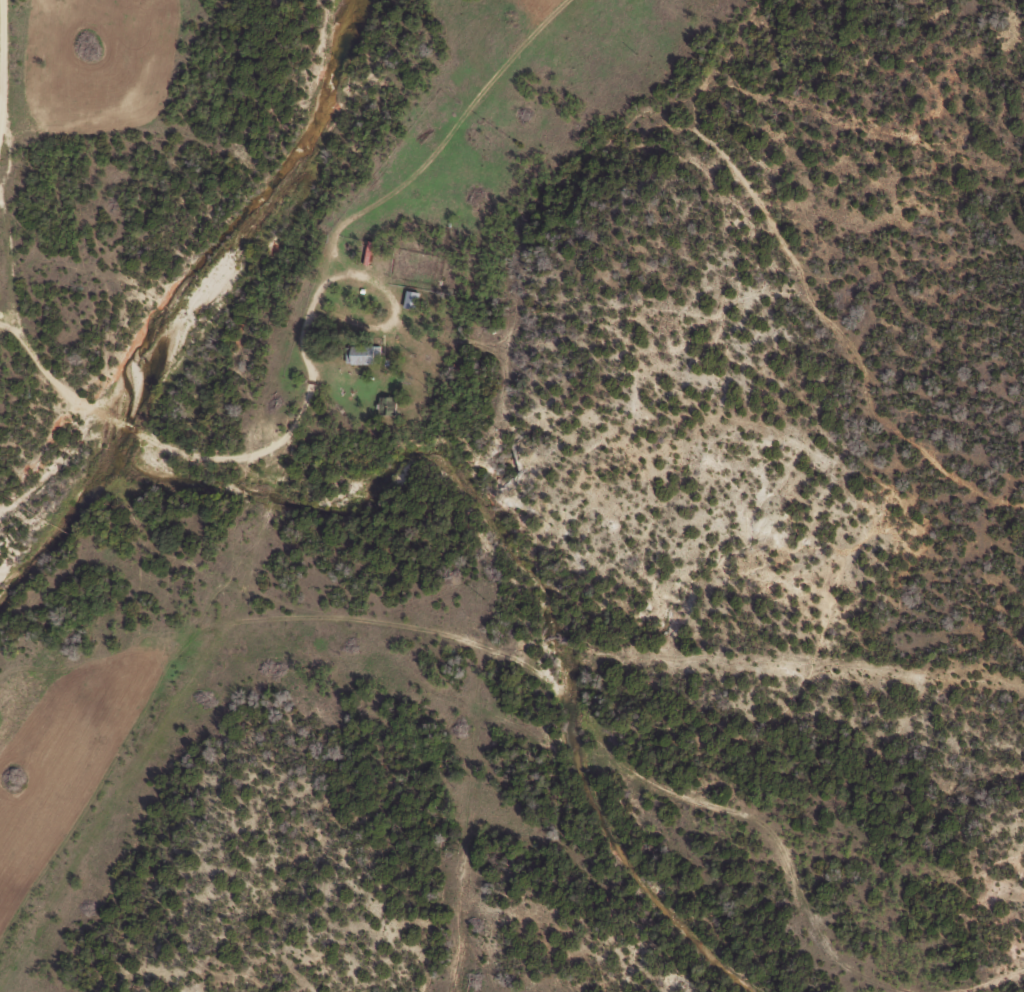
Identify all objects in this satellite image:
road: (2, 62)
road: (361, 196)
building: (412, 299)
road: (394, 315)
road: (471, 328)
building: (364, 354)
road: (431, 660)
road: (116, 784)
road: (1017, 989)

